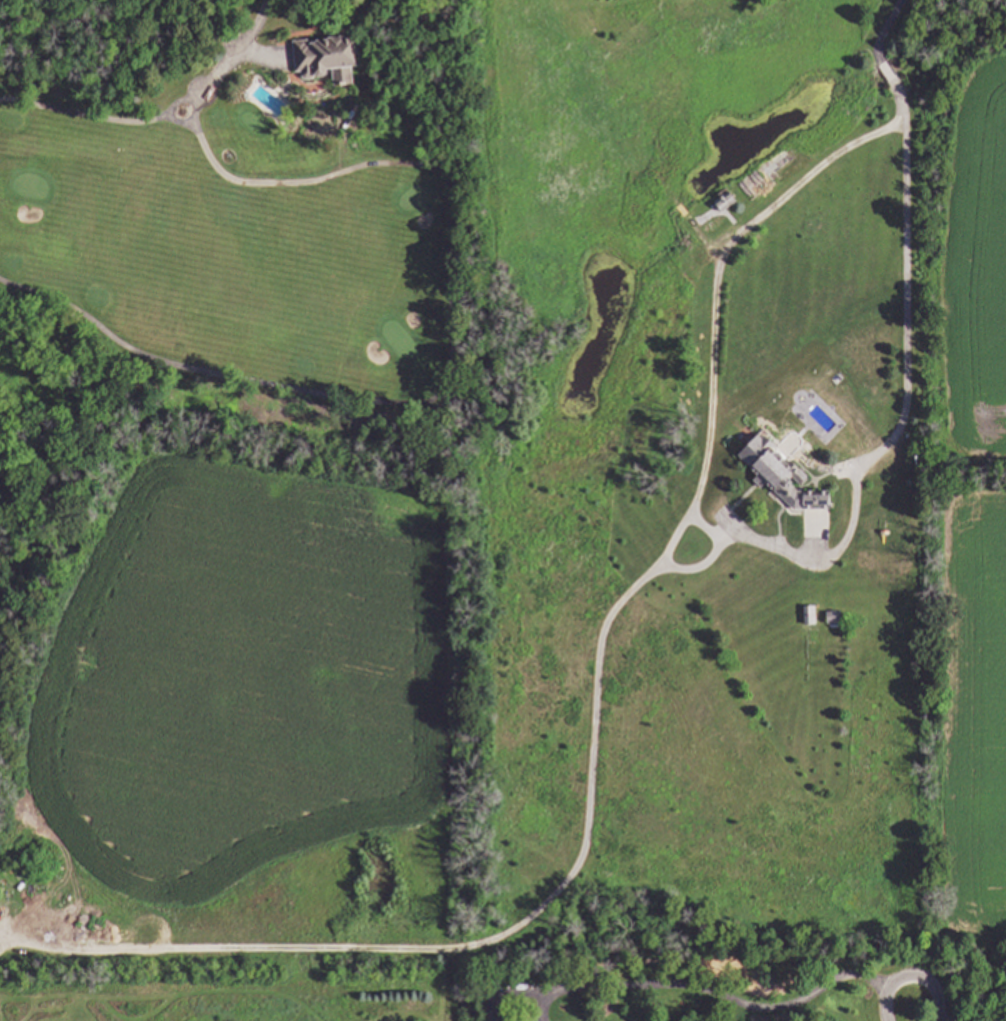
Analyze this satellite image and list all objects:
building: (326, 58)
road: (230, 60)
building: (723, 200)
road: (896, 422)
building: (789, 488)
building: (809, 618)
building: (833, 620)
road: (598, 678)
road: (1, 940)
road: (910, 975)
crop: (238, 987)
road: (507, 988)
road: (723, 993)
road: (546, 1005)
road: (977, 1016)

